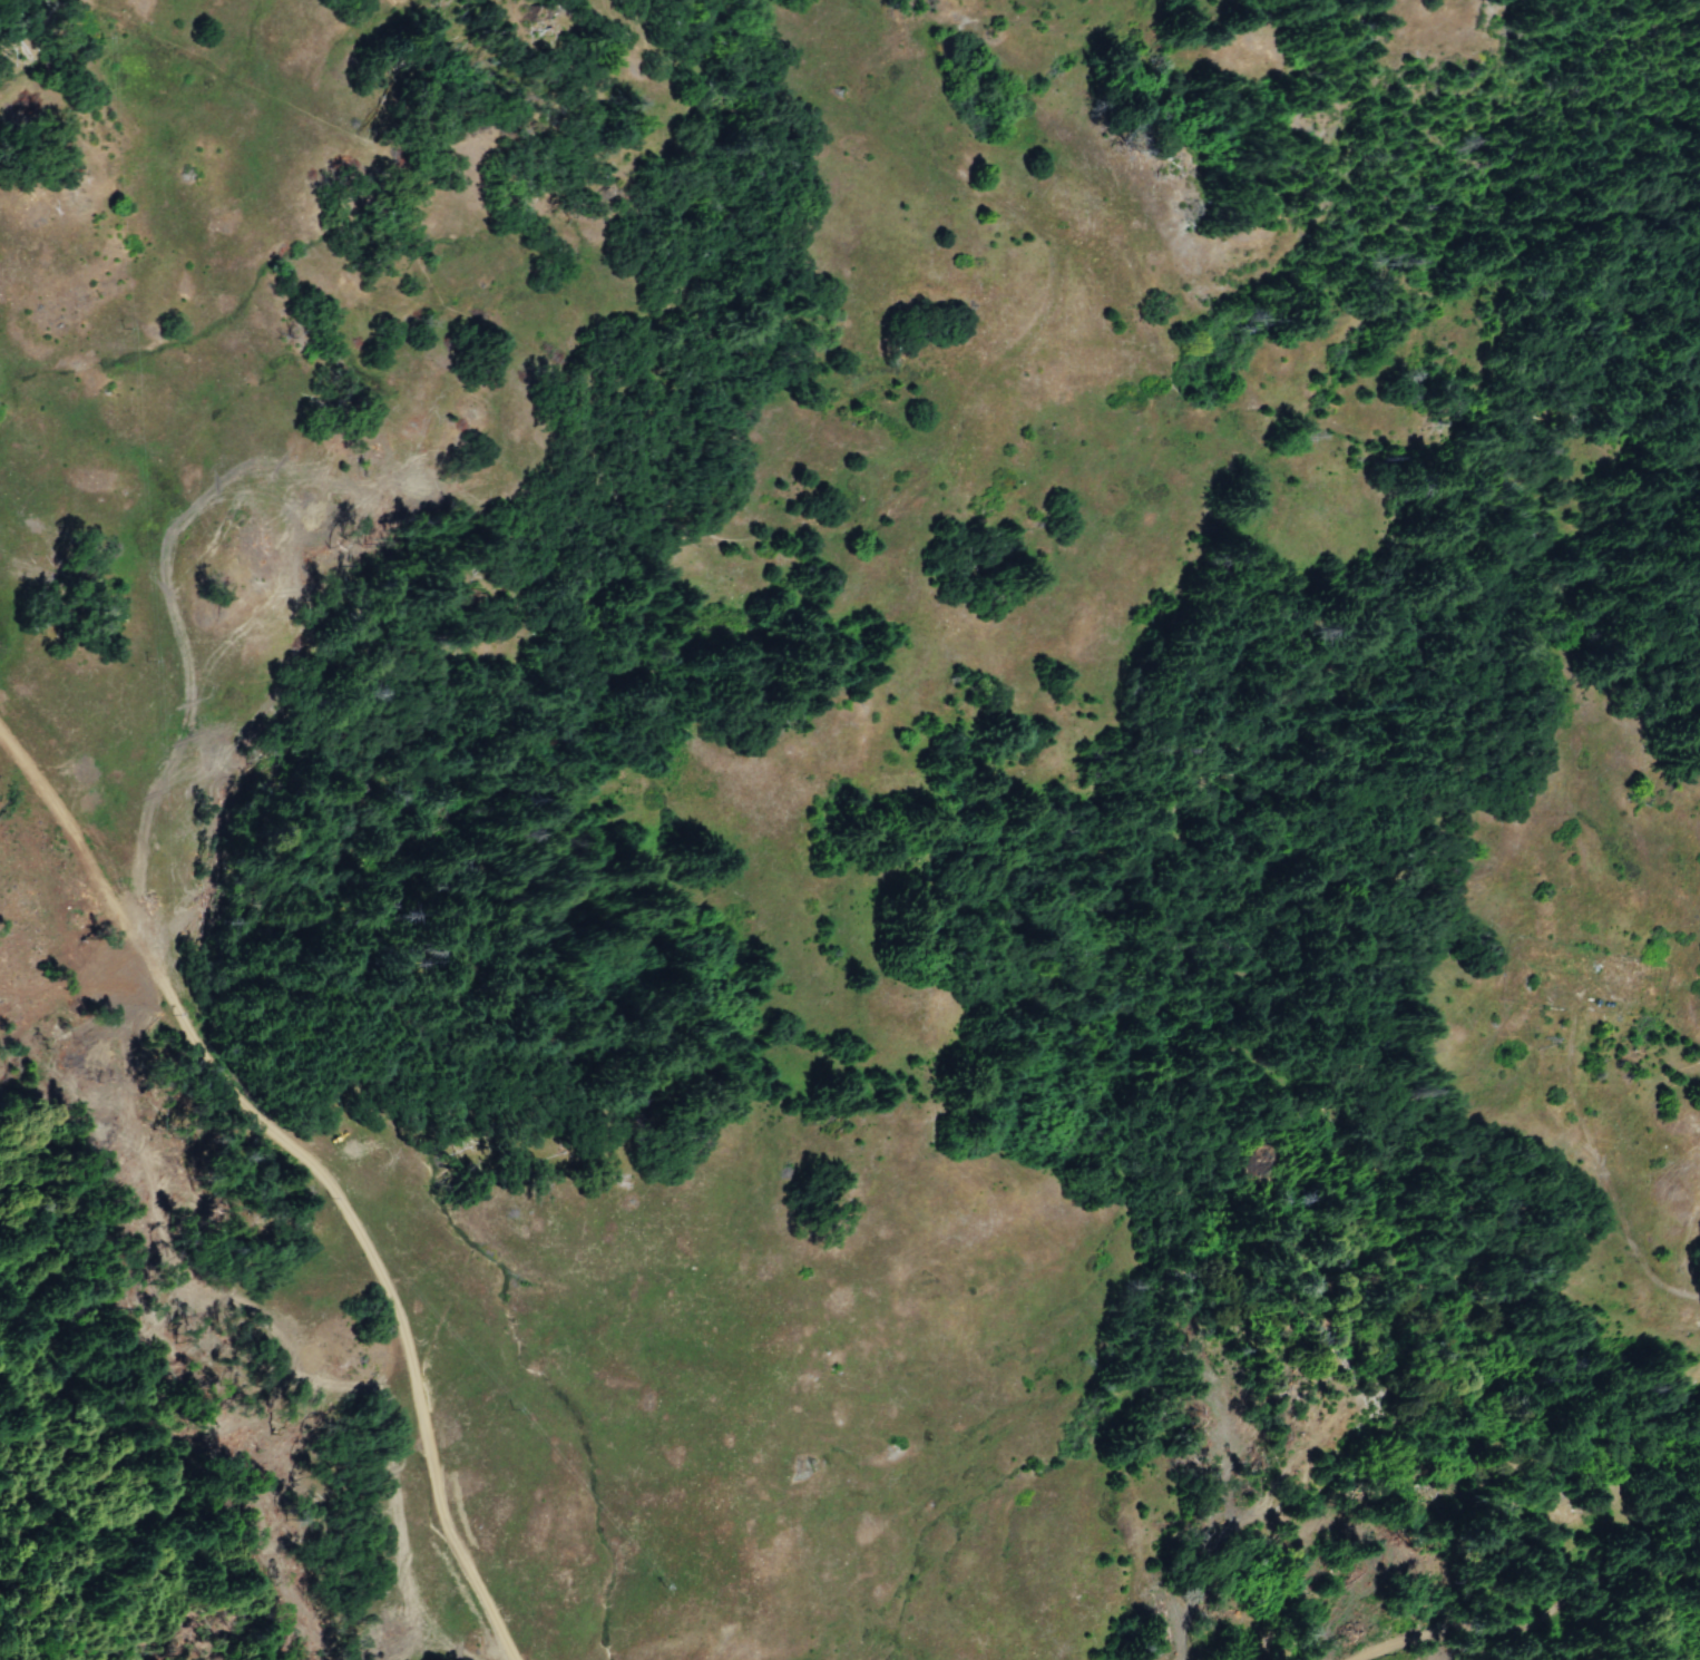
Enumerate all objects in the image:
road: (324, 1146)
road: (1604, 1631)

